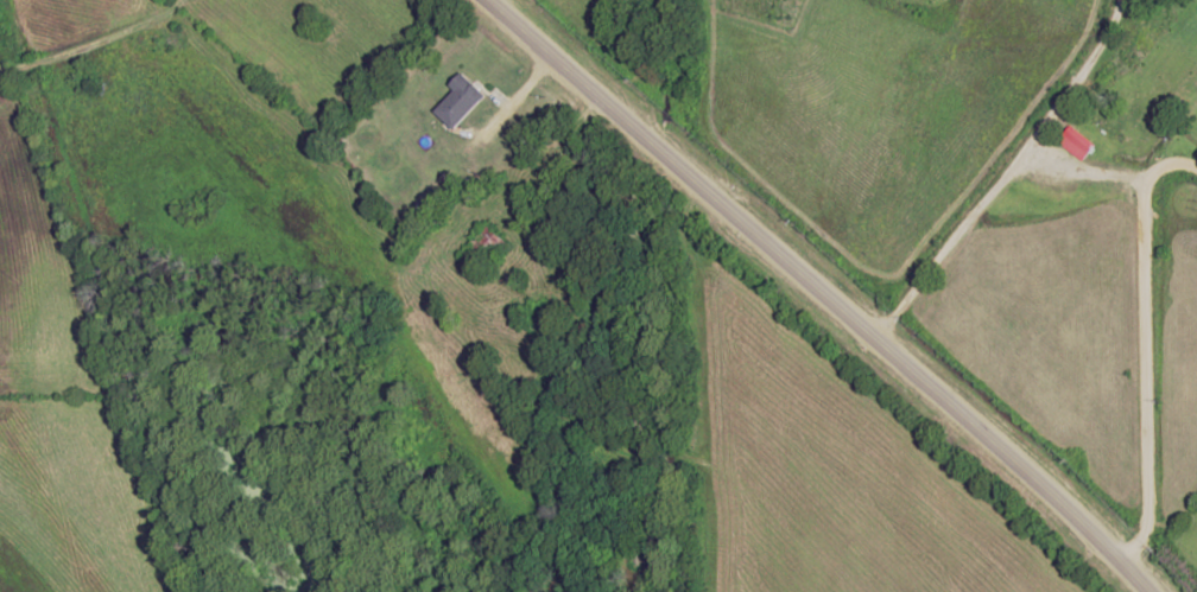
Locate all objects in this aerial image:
building: (1079, 138)
road: (969, 223)
road: (821, 293)
road: (1145, 346)

